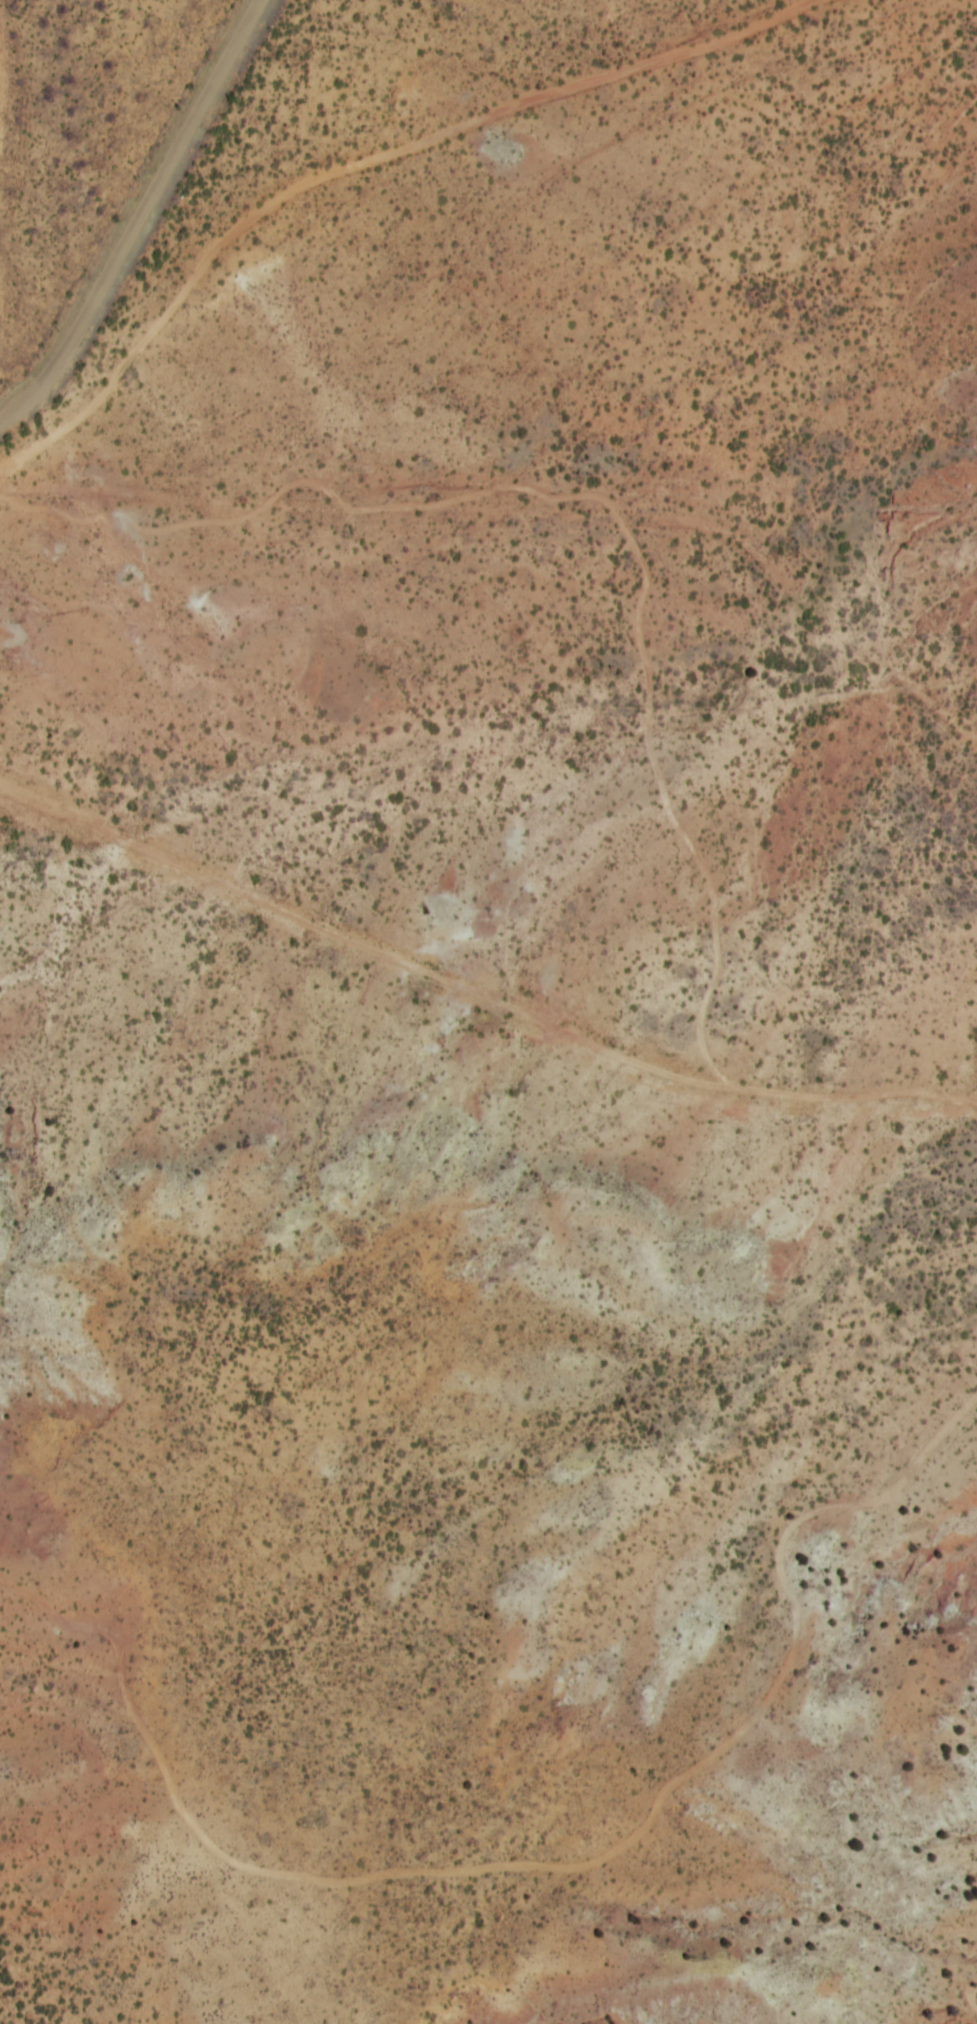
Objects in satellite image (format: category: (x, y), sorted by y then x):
road: (366, 167)
road: (169, 175)

